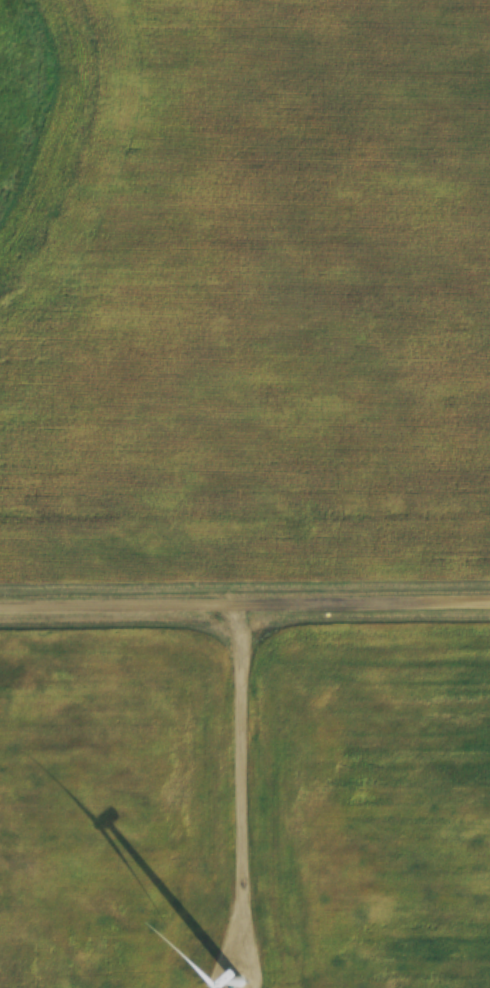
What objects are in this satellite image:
road: (245, 602)
wind turbine: (232, 975)

